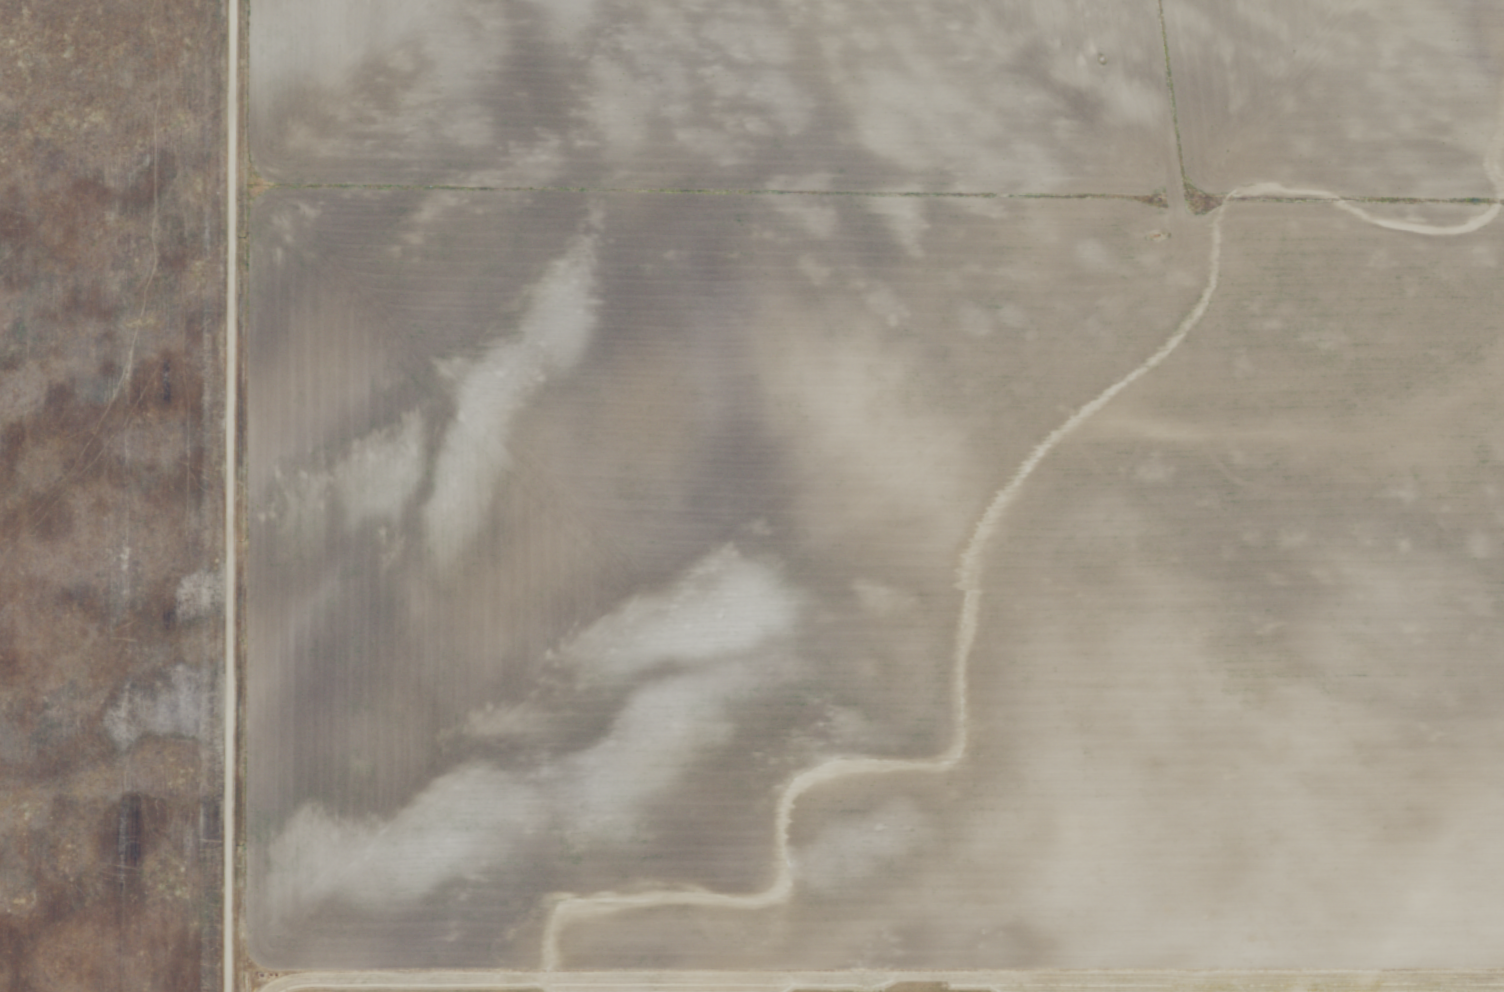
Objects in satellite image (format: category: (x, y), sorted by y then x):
road: (1162, 139)
road: (227, 495)

